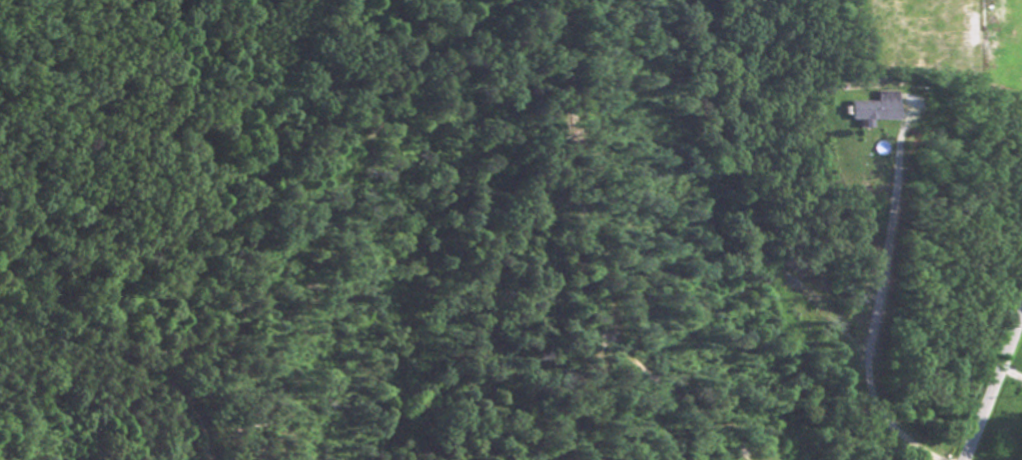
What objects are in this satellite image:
building: (871, 112)
road: (996, 386)

